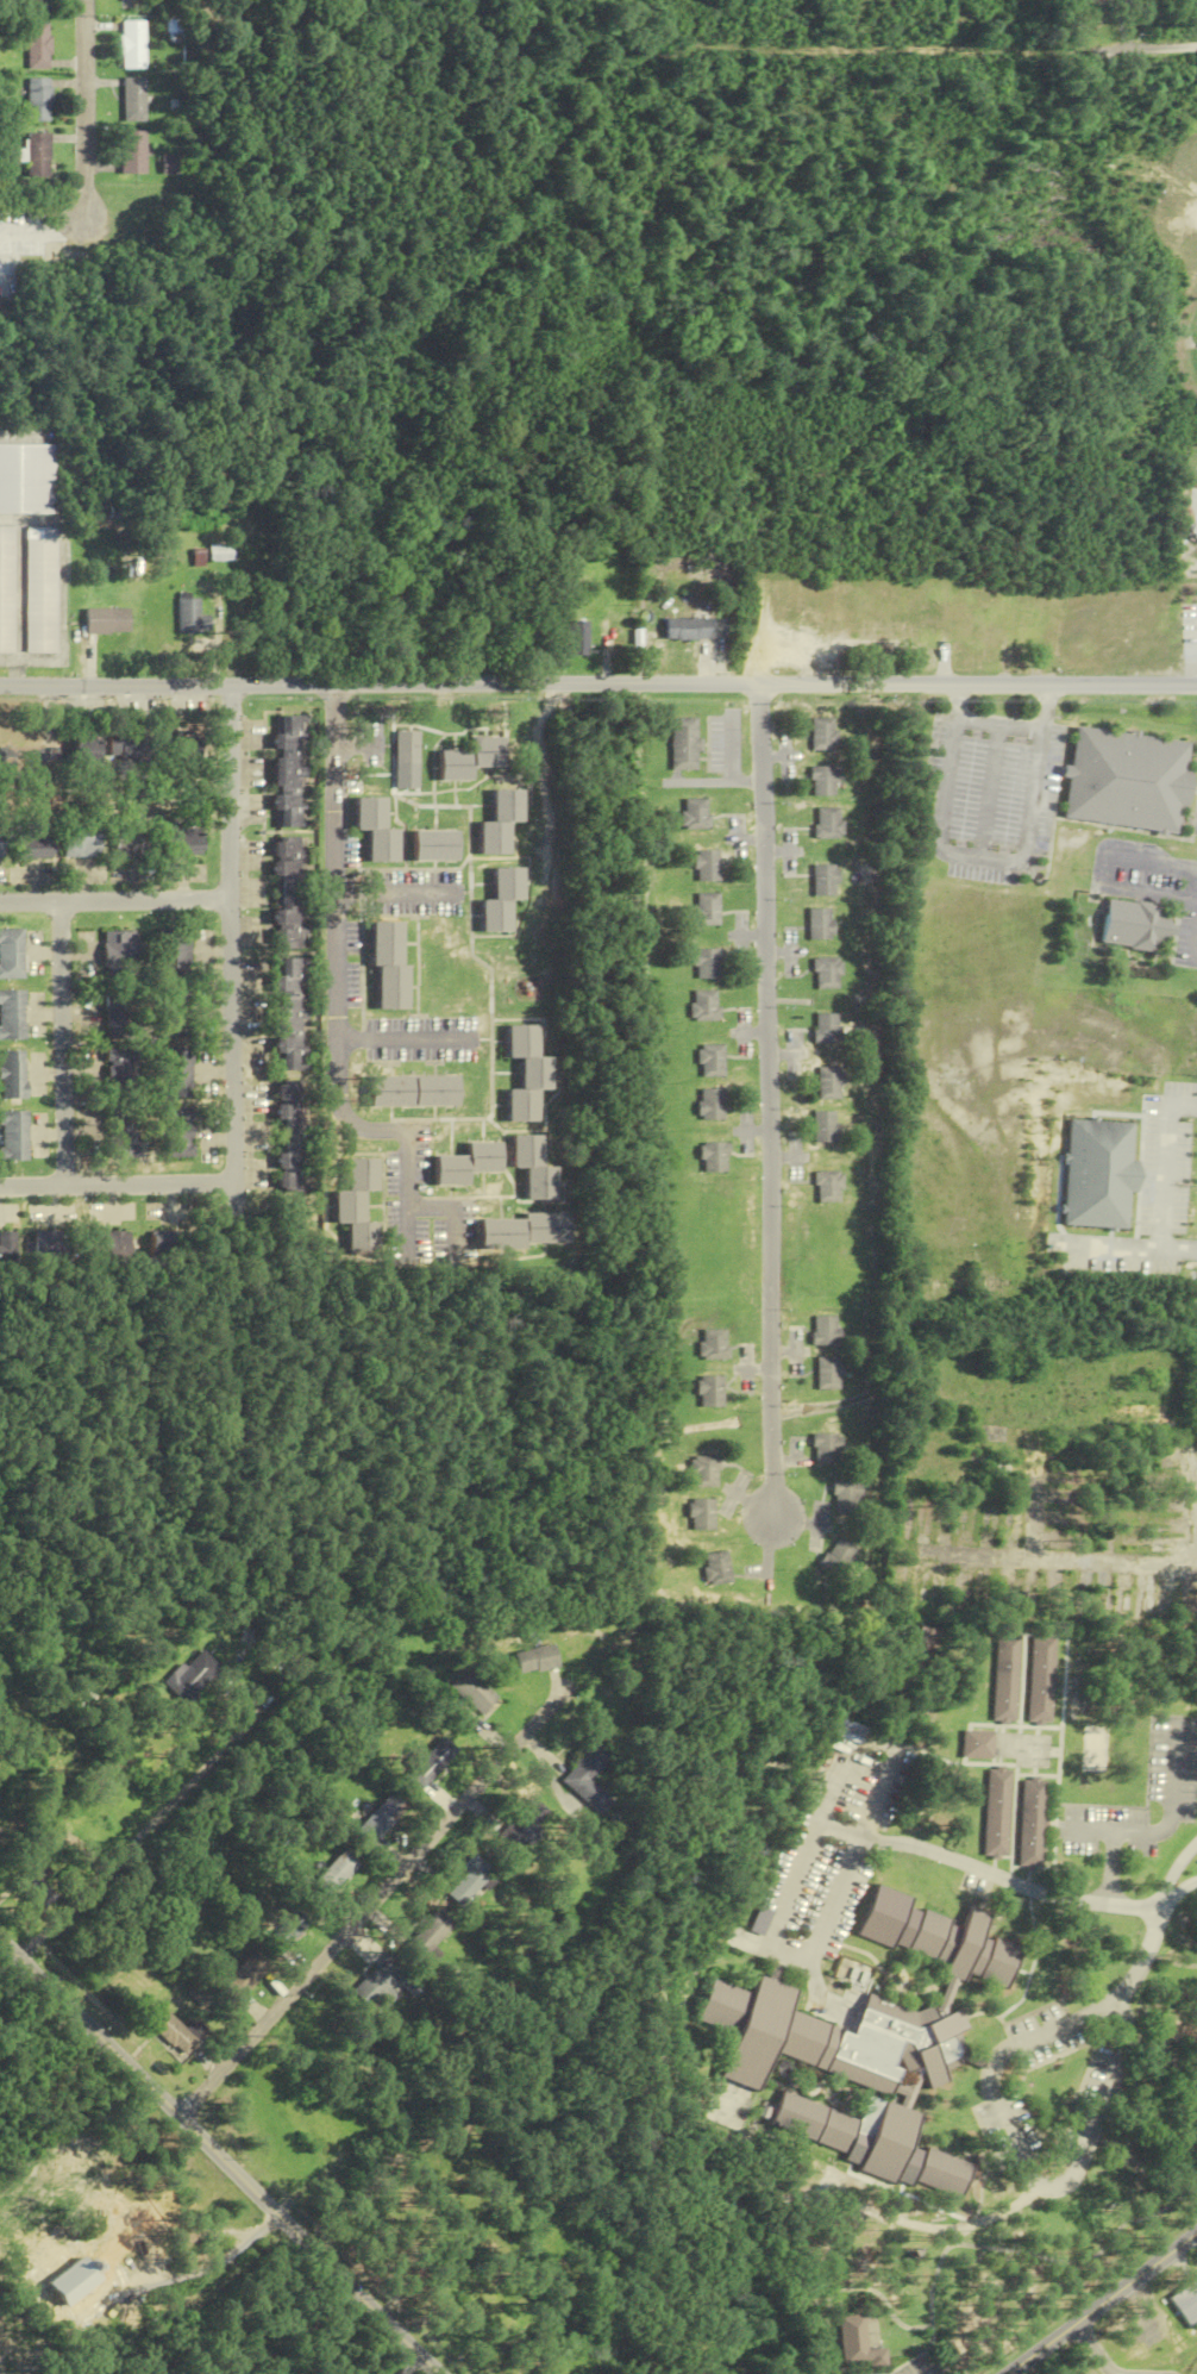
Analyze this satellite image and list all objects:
building: (134, 0)
building: (39, 6)
building: (133, 45)
building: (39, 46)
road: (1074, 54)
building: (39, 100)
building: (133, 100)
road: (86, 111)
building: (133, 152)
building: (38, 156)
building: (169, 165)
road: (44, 235)
building: (26, 479)
building: (218, 552)
building: (39, 591)
building: (188, 617)
building: (95, 623)
building: (688, 629)
building: (577, 638)
road: (597, 682)
road: (1001, 725)
building: (822, 733)
building: (683, 743)
building: (125, 745)
building: (406, 748)
building: (84, 751)
building: (186, 754)
building: (610, 756)
building: (25, 758)
building: (471, 758)
building: (288, 771)
building: (1128, 779)
building: (823, 781)
building: (694, 813)
building: (501, 823)
building: (827, 823)
building: (377, 830)
building: (130, 836)
building: (82, 842)
building: (183, 842)
building: (32, 843)
building: (434, 846)
road: (988, 858)
building: (706, 867)
building: (825, 881)
building: (289, 892)
road: (397, 892)
road: (115, 900)
building: (502, 900)
building: (704, 910)
building: (819, 924)
building: (1134, 925)
road: (747, 935)
road: (231, 936)
building: (119, 950)
building: (175, 952)
building: (12, 954)
building: (707, 964)
building: (389, 966)
building: (826, 974)
road: (336, 997)
building: (703, 1005)
building: (174, 1012)
building: (118, 1013)
building: (12, 1014)
building: (290, 1014)
building: (826, 1029)
road: (748, 1032)
road: (399, 1039)
road: (62, 1043)
building: (709, 1061)
building: (119, 1067)
building: (174, 1073)
building: (12, 1074)
building: (526, 1074)
building: (828, 1082)
building: (413, 1091)
road: (766, 1099)
building: (708, 1104)
road: (1196, 1106)
building: (822, 1126)
road: (751, 1130)
building: (120, 1133)
building: (176, 1133)
building: (13, 1136)
building: (290, 1136)
building: (710, 1157)
road: (1165, 1163)
building: (468, 1164)
building: (533, 1168)
building: (1099, 1175)
road: (118, 1185)
building: (825, 1187)
road: (453, 1206)
building: (358, 1208)
building: (526, 1231)
building: (165, 1243)
building: (45, 1245)
building: (109, 1245)
road: (1121, 1245)
road: (1189, 1250)
building: (10, 1252)
building: (823, 1331)
building: (712, 1344)
building: (827, 1374)
building: (709, 1392)
building: (1138, 1416)
building: (977, 1441)
building: (825, 1449)
building: (1143, 1454)
building: (1003, 1469)
building: (702, 1472)
building: (1136, 1479)
building: (1078, 1480)
building: (844, 1498)
building: (1074, 1498)
building: (1153, 1500)
building: (908, 1504)
road: (1033, 1507)
building: (946, 1510)
building: (923, 1512)
building: (1014, 1512)
building: (698, 1514)
building: (1148, 1523)
building: (1076, 1524)
road: (1192, 1526)
building: (1142, 1542)
building: (835, 1557)
road: (1107, 1562)
building: (714, 1568)
building: (1003, 1592)
building: (958, 1594)
building: (1160, 1603)
building: (929, 1604)
building: (1139, 1604)
building: (1048, 1606)
building: (1184, 1607)
building: (1077, 1608)
building: (1101, 1608)
building: (1118, 1608)
building: (926, 1639)
building: (534, 1660)
building: (194, 1678)
building: (1003, 1678)
building: (1038, 1679)
building: (474, 1693)
building: (976, 1745)
building: (433, 1763)
building: (587, 1780)
building: (996, 1813)
building: (382, 1820)
building: (1032, 1824)
building: (524, 1825)
road: (1166, 1825)
building: (1, 1831)
road: (136, 1848)
road: (802, 1858)
road: (1111, 1869)
road: (986, 1873)
building: (337, 1874)
building: (472, 1881)
building: (36, 1887)
road: (1180, 1887)
road: (376, 1901)
building: (289, 1931)
building: (430, 1937)
road: (1151, 1942)
building: (249, 1975)
building: (387, 1982)
building: (863, 2017)
road: (1124, 2019)
building: (174, 2032)
building: (312, 2124)
building: (875, 2141)
road: (219, 2156)
road: (1024, 2164)
building: (82, 2280)
building: (487, 2301)
building: (1186, 2301)
road: (1102, 2304)
building: (858, 2343)
building: (556, 2368)

